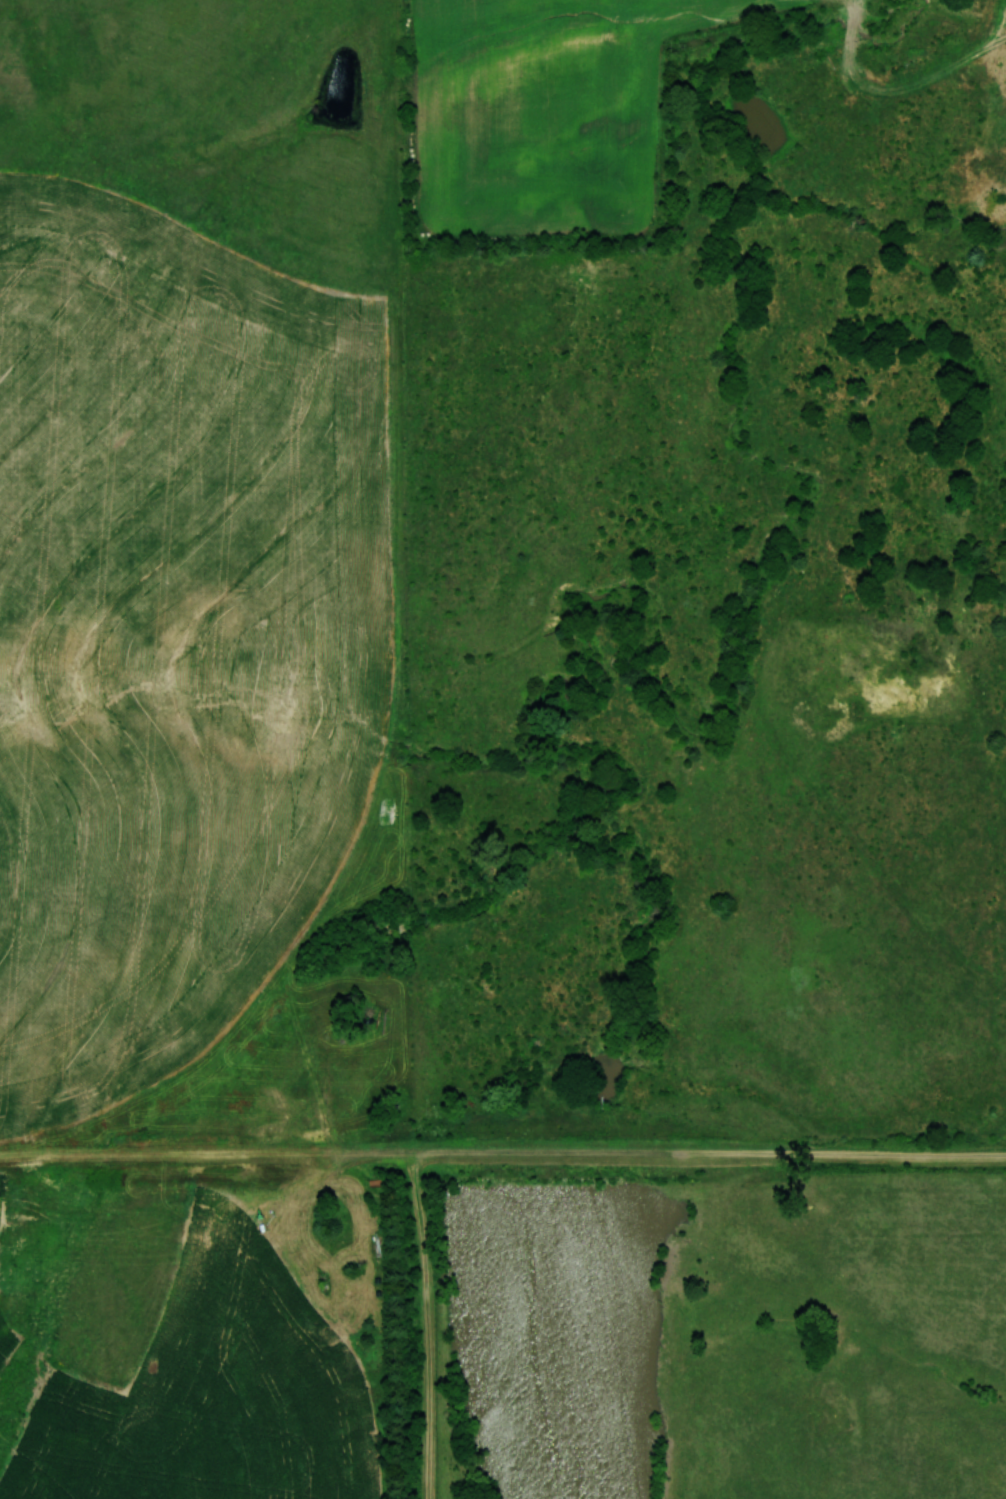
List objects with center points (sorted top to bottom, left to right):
road: (503, 1162)

